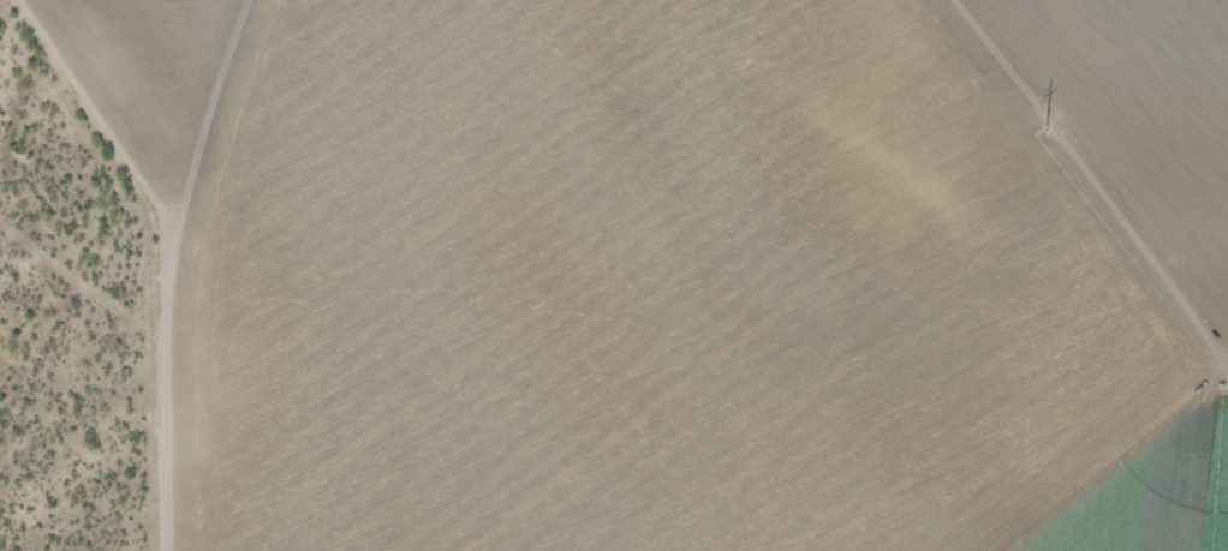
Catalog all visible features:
power tower: (1037, 120)
road: (167, 254)

